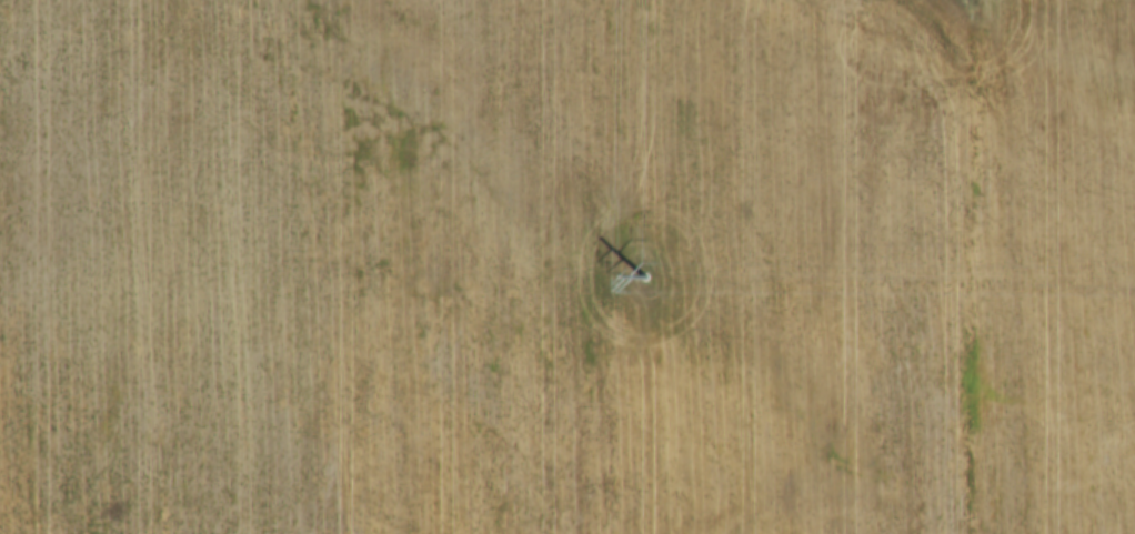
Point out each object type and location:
road: (972, 266)
power tower: (650, 273)

